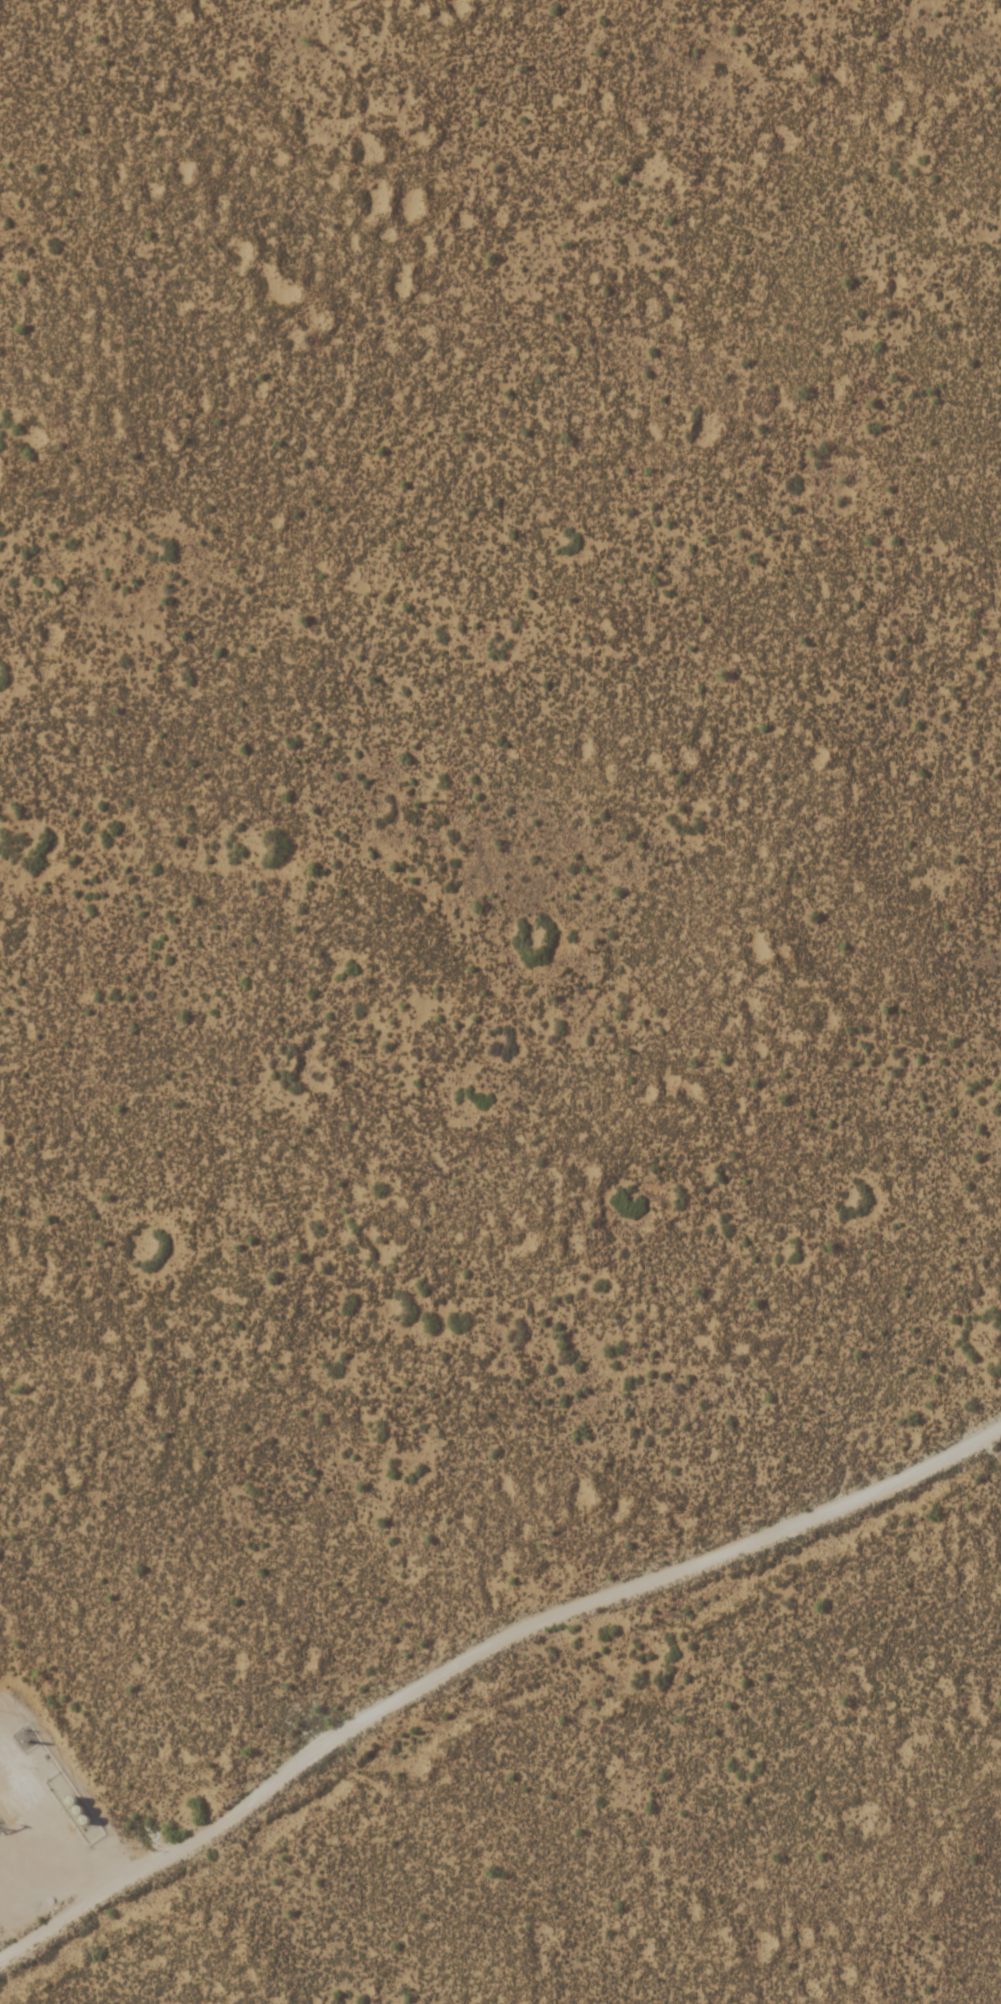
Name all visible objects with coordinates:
road: (477, 1644)

